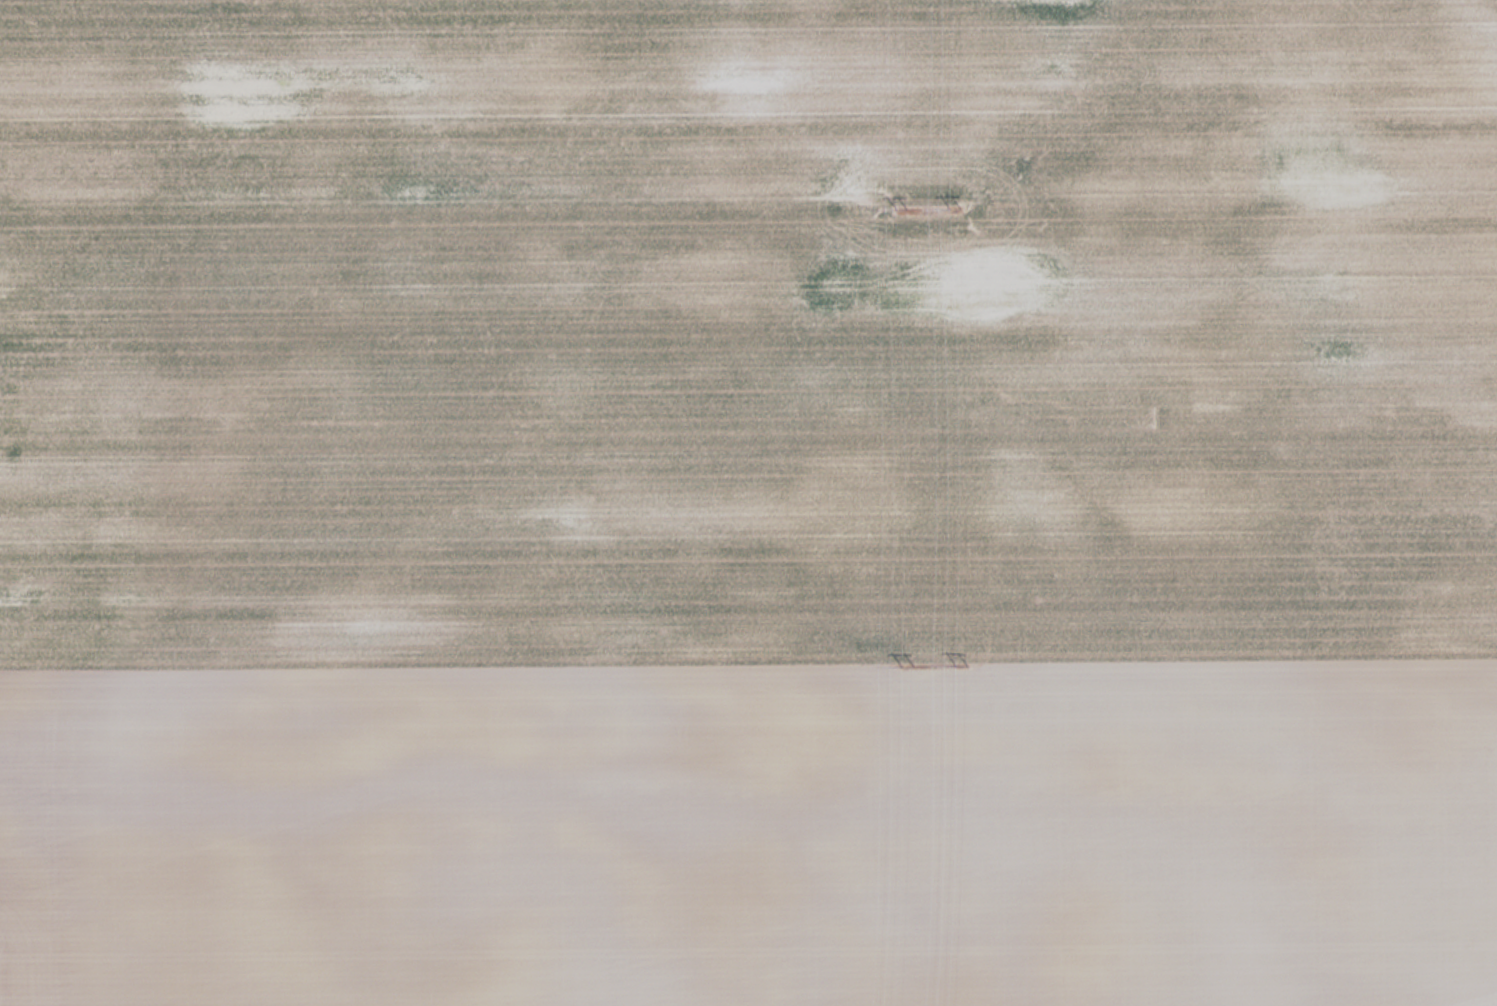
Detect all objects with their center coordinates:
power tower: (953, 205)
power tower: (899, 206)
power tower: (956, 663)
power tower: (902, 664)

